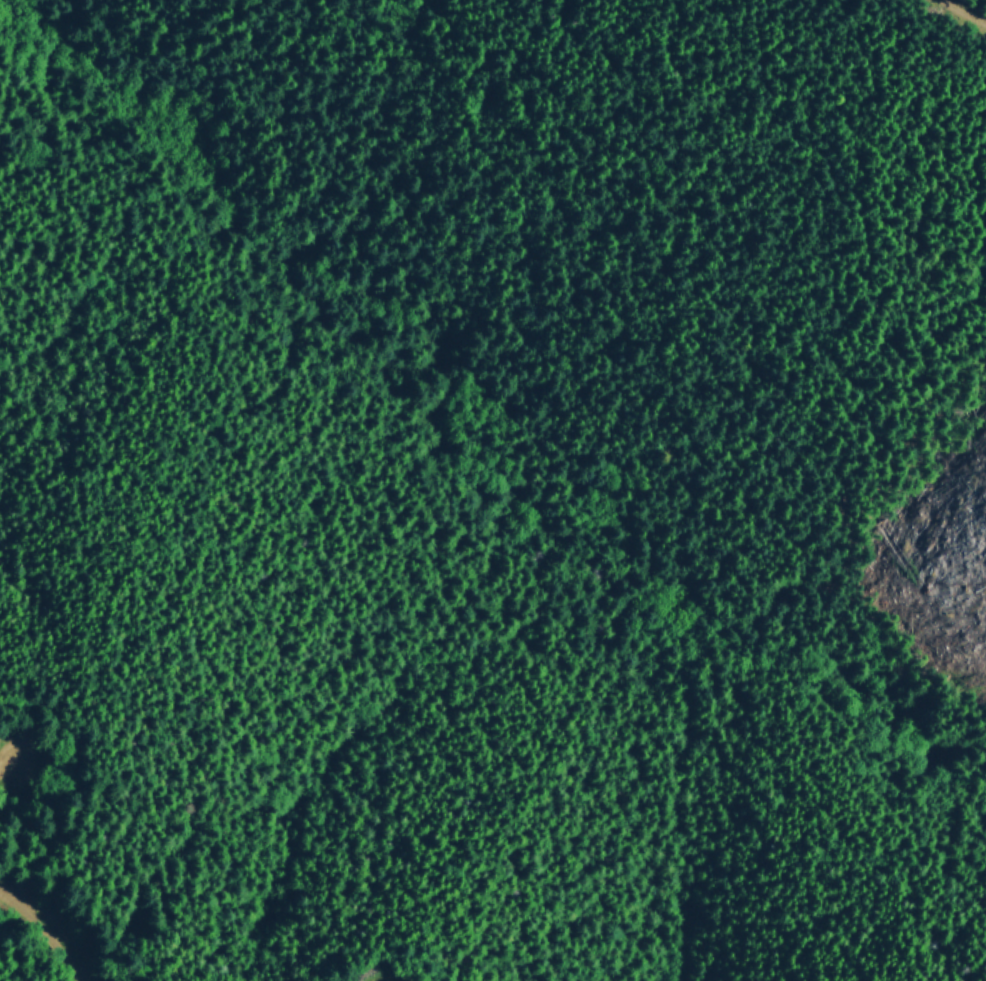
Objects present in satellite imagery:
road: (48, 933)

